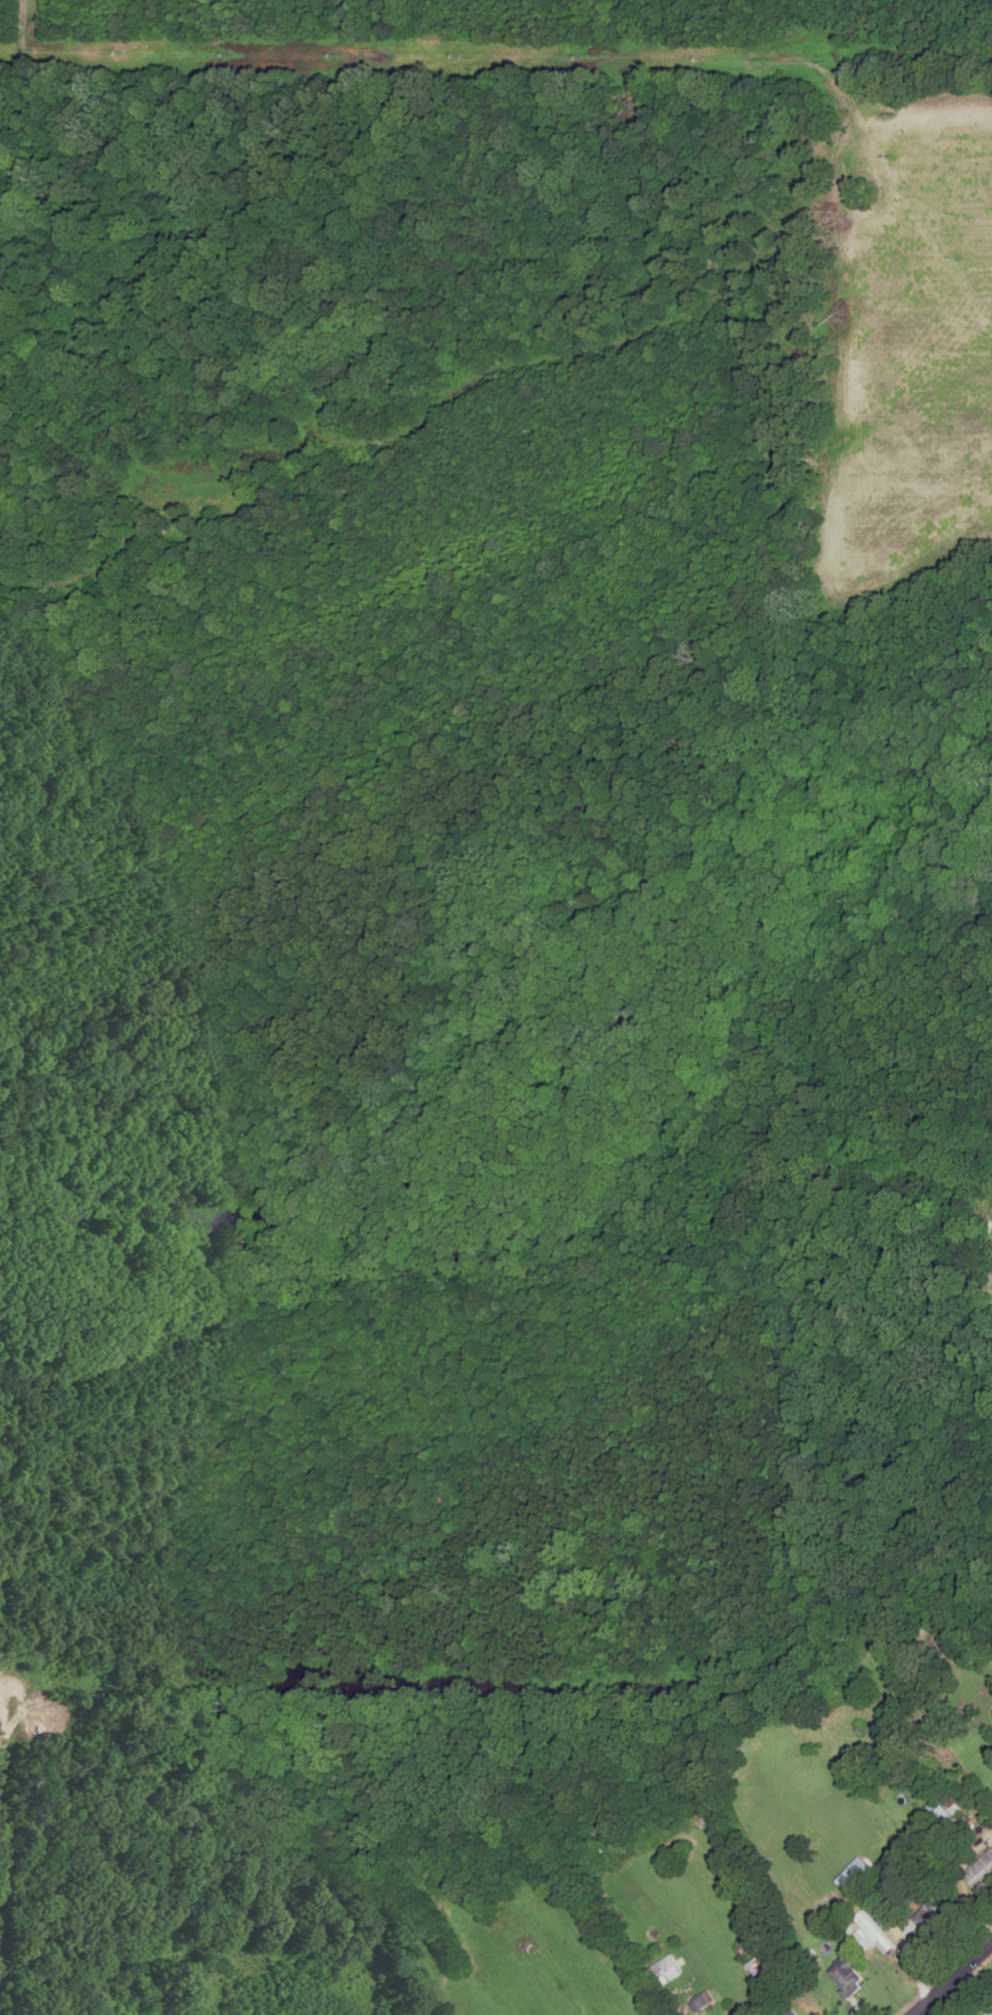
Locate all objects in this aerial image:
road: (382, 762)
road: (2, 1714)
building: (858, 1869)
building: (878, 1933)
building: (666, 1969)
building: (756, 1970)
building: (847, 1974)
road: (952, 1978)
road: (716, 1995)
building: (701, 2001)
building: (791, 2013)
building: (989, 2013)

